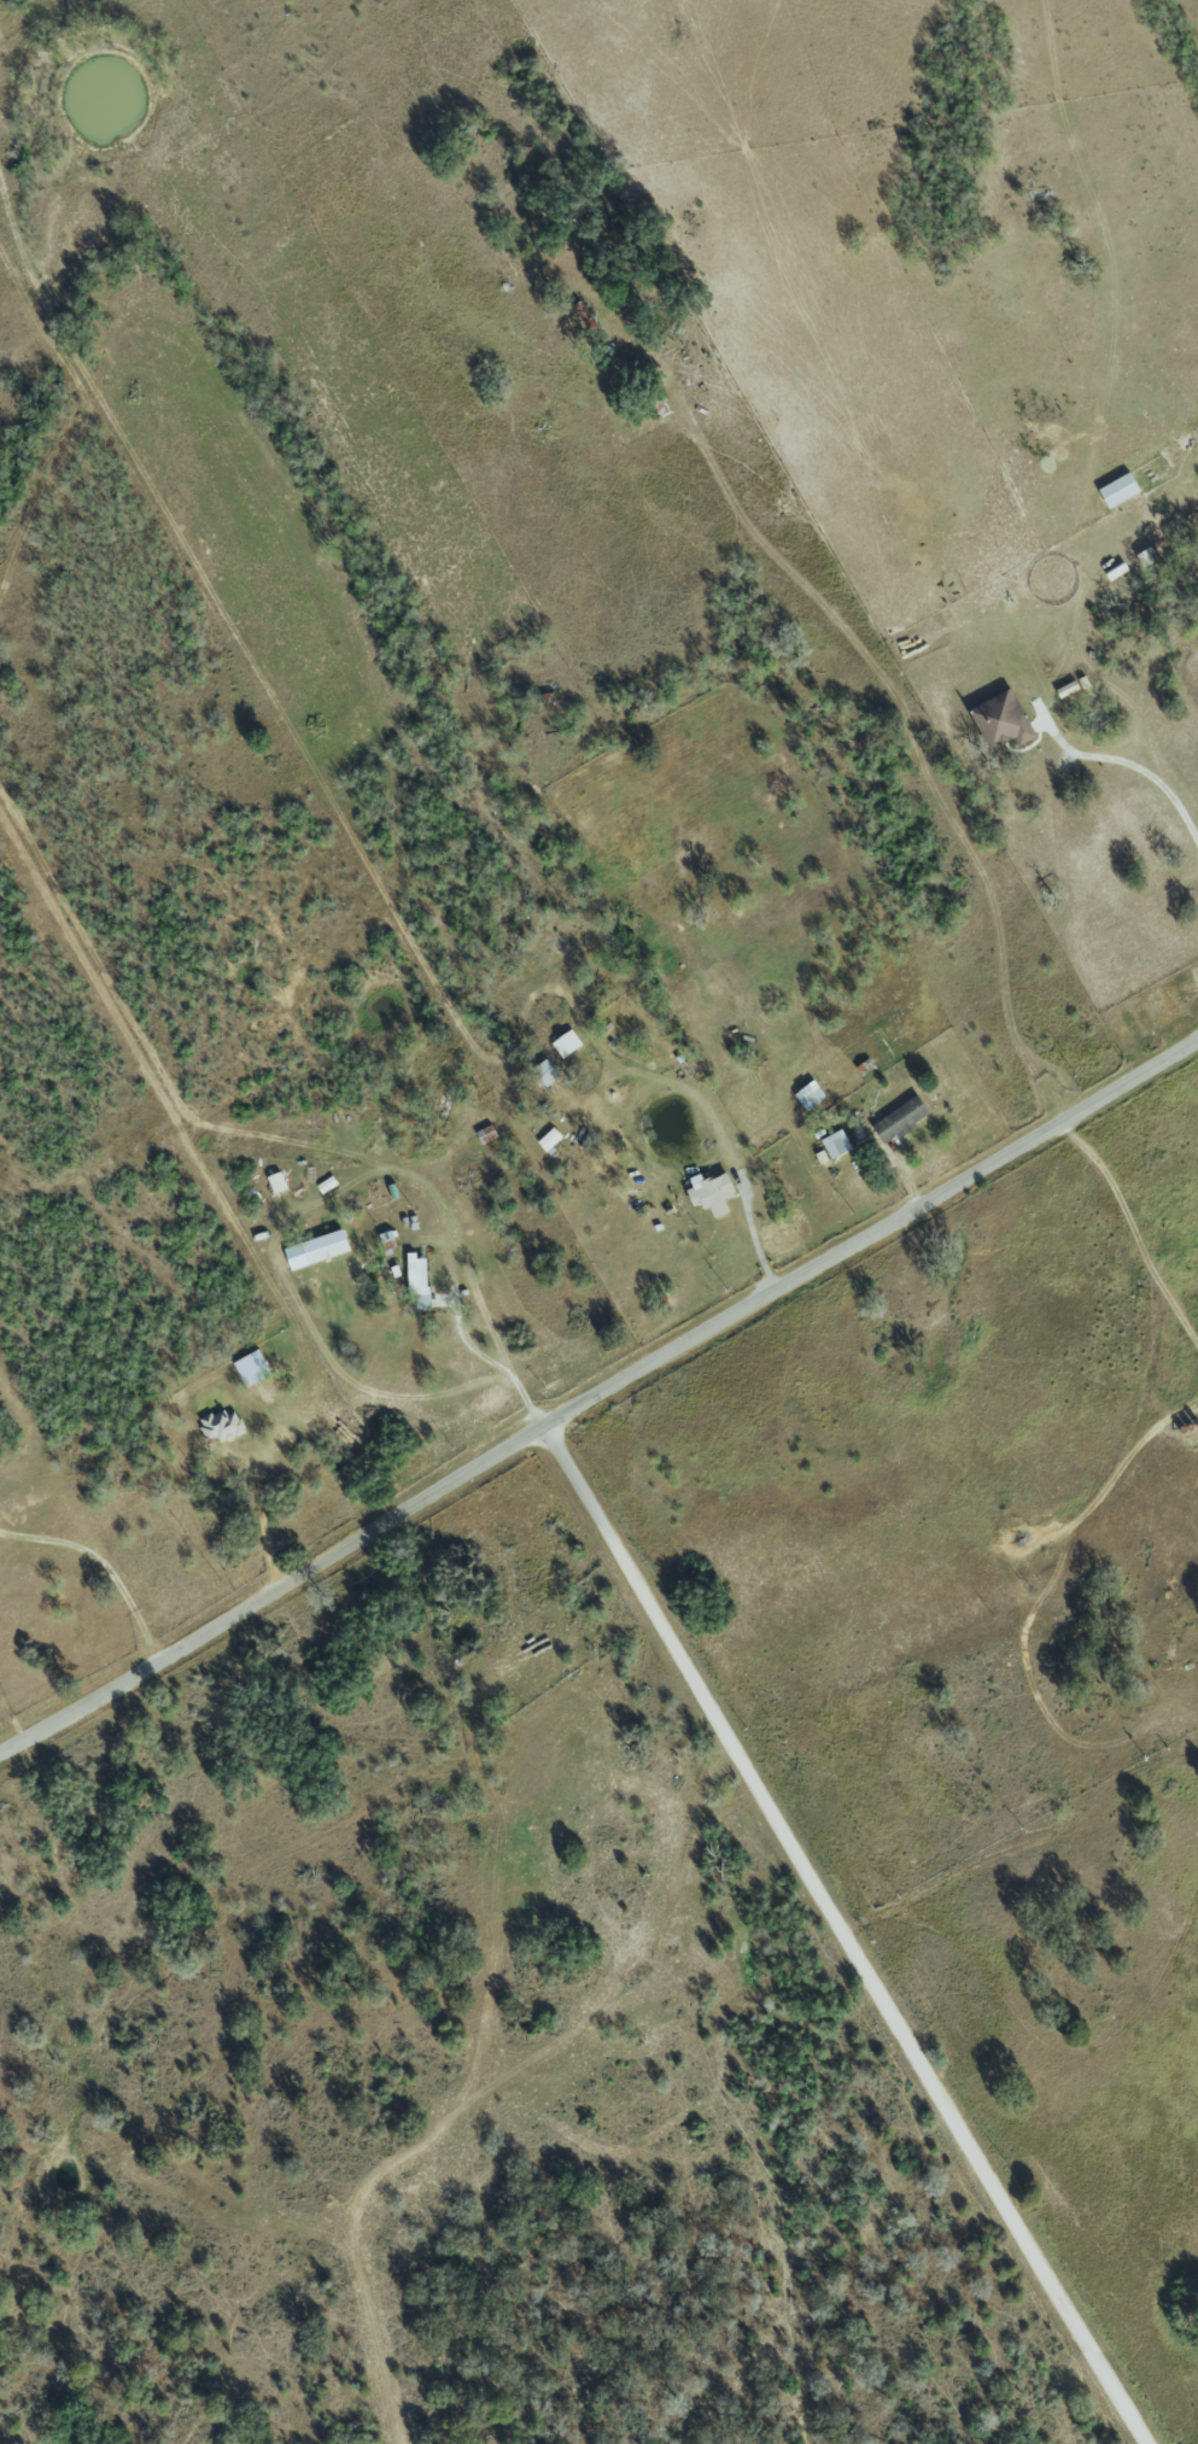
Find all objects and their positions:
building: (1116, 490)
building: (998, 720)
road: (908, 721)
road: (1136, 761)
building: (565, 1043)
building: (543, 1072)
building: (896, 1119)
building: (547, 1139)
building: (834, 1144)
building: (819, 1157)
building: (275, 1182)
building: (708, 1193)
building: (385, 1240)
building: (314, 1250)
building: (415, 1280)
road: (473, 1350)
building: (250, 1368)
road: (596, 1392)
road: (381, 1397)
building: (218, 1425)
road: (105, 1562)
road: (855, 1931)

